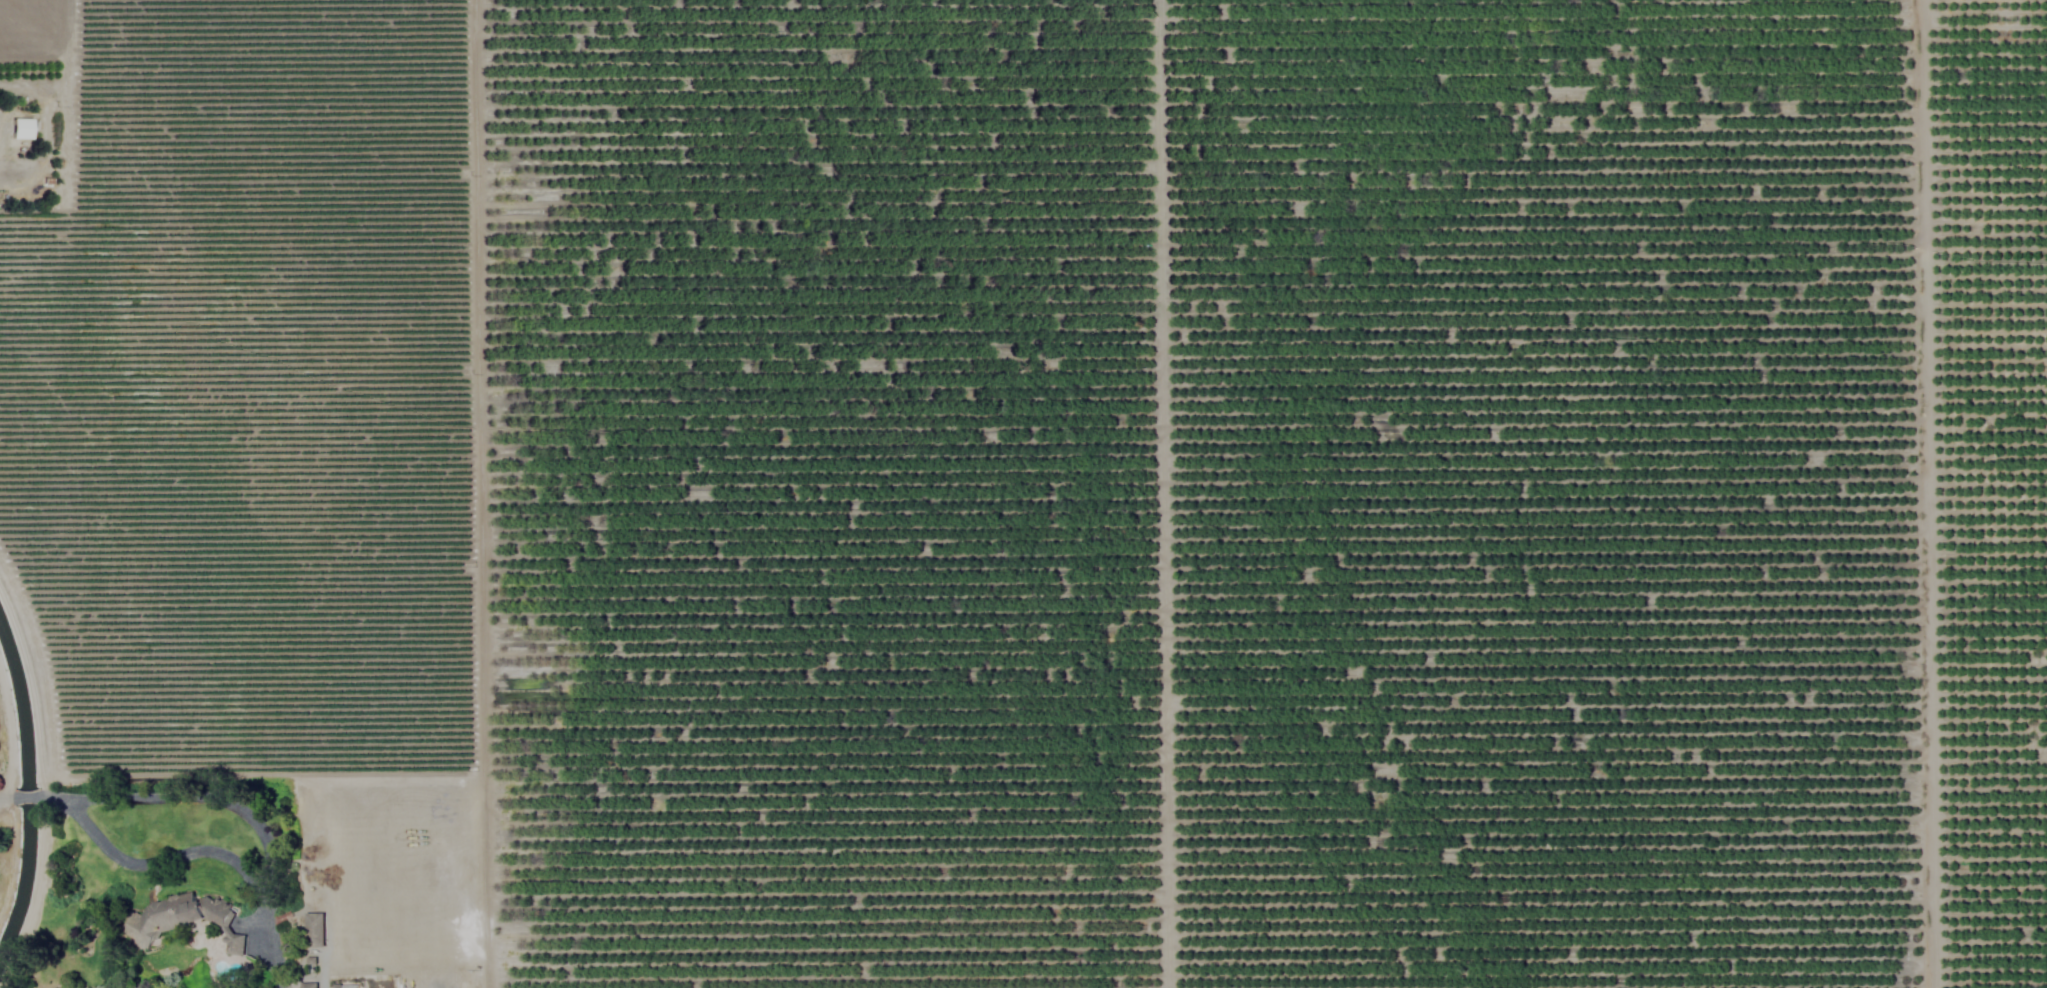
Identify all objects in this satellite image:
building: (22, 128)
crop: (1060, 481)
road: (5, 796)
road: (24, 796)
road: (203, 797)
road: (191, 850)
building: (179, 912)
building: (315, 928)
building: (234, 941)
building: (309, 984)
building: (345, 985)

